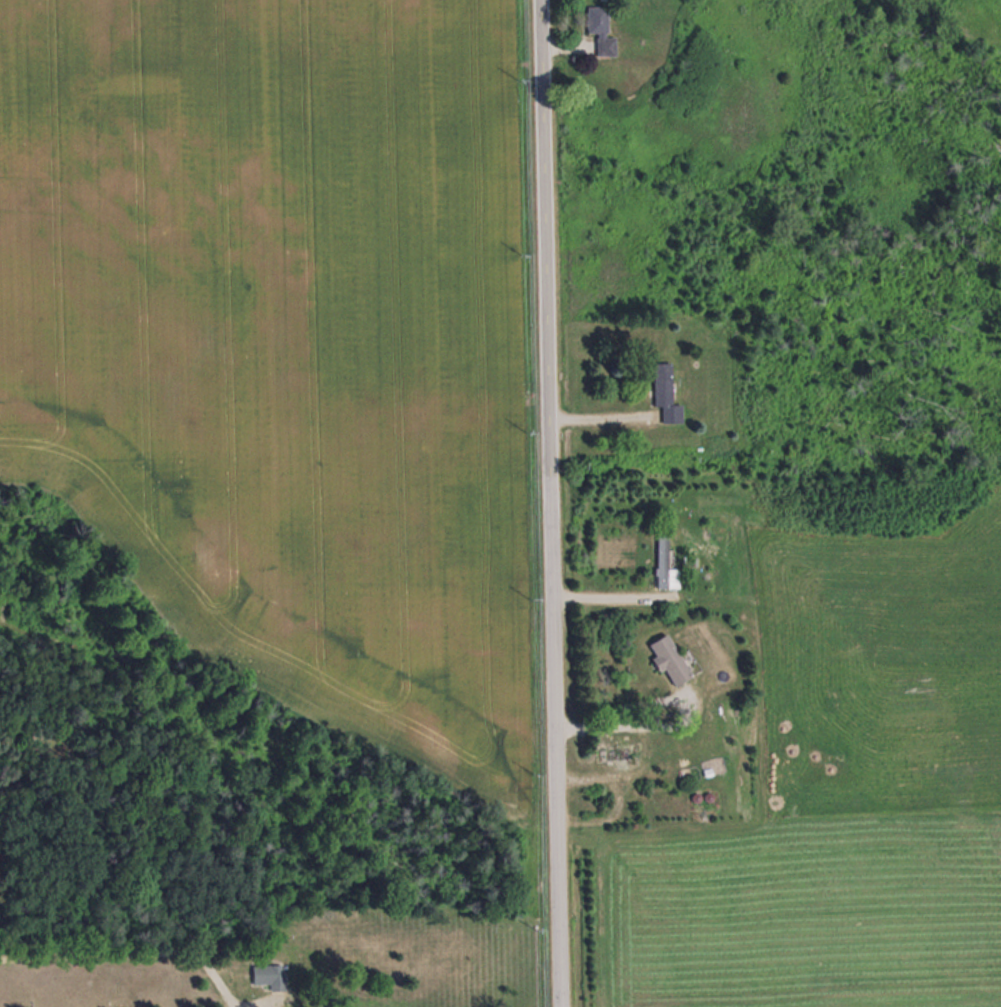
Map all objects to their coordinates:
building: (601, 28)
building: (666, 392)
road: (546, 503)
building: (663, 560)
building: (669, 659)
building: (616, 753)
park: (255, 923)
building: (270, 975)

